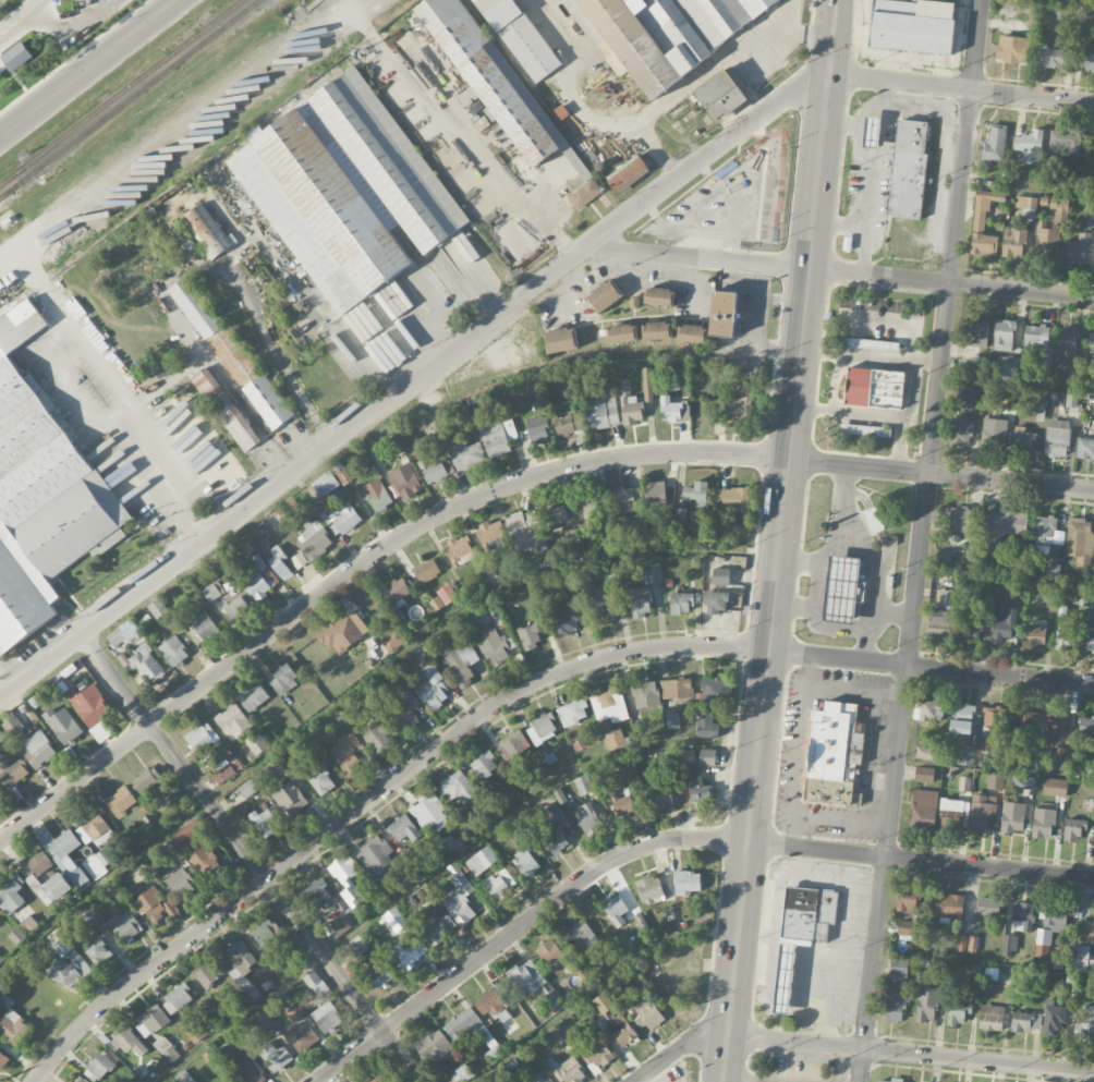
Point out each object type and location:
road: (836, 19)
building: (912, 25)
road: (788, 27)
building: (664, 32)
building: (520, 37)
building: (1013, 49)
building: (16, 56)
building: (1053, 56)
road: (832, 57)
building: (1087, 60)
road: (90, 70)
road: (705, 73)
building: (500, 87)
road: (961, 90)
railway: (121, 93)
building: (720, 95)
road: (879, 95)
railway: (129, 98)
road: (581, 112)
road: (842, 123)
railway: (163, 124)
railway: (81, 126)
building: (1063, 141)
building: (995, 145)
building: (1030, 146)
building: (1093, 150)
road: (879, 156)
building: (909, 169)
building: (627, 172)
building: (347, 190)
railway: (2, 195)
building: (1025, 203)
building: (1059, 205)
building: (1087, 209)
road: (840, 223)
building: (205, 232)
building: (184, 236)
building: (982, 236)
building: (1047, 238)
building: (1013, 243)
building: (1078, 250)
road: (770, 264)
road: (1022, 290)
building: (605, 296)
building: (659, 296)
building: (724, 314)
building: (656, 330)
building: (216, 333)
building: (622, 333)
building: (692, 333)
building: (974, 333)
building: (1004, 336)
building: (1035, 337)
building: (1068, 339)
building: (560, 340)
building: (1091, 341)
building: (873, 344)
road: (90, 352)
road: (271, 353)
building: (1010, 368)
road: (224, 374)
road: (412, 379)
building: (647, 385)
building: (887, 389)
building: (970, 398)
building: (1071, 400)
building: (268, 402)
building: (630, 404)
building: (739, 404)
building: (226, 410)
building: (673, 411)
building: (603, 413)
building: (568, 424)
building: (538, 430)
building: (963, 433)
building: (994, 433)
building: (498, 438)
building: (1057, 438)
building: (1023, 439)
building: (1084, 448)
building: (465, 454)
building: (433, 471)
building: (343, 477)
building: (405, 482)
building: (325, 484)
road: (494, 491)
building: (41, 494)
building: (655, 494)
building: (697, 494)
building: (377, 495)
building: (732, 499)
building: (628, 500)
building: (594, 507)
building: (288, 513)
building: (555, 514)
building: (342, 519)
building: (956, 519)
building: (873, 520)
building: (1008, 524)
building: (525, 530)
building: (1048, 531)
building: (491, 534)
road: (838, 535)
building: (314, 539)
road: (921, 540)
building: (1079, 542)
building: (242, 550)
building: (460, 551)
building: (1044, 552)
building: (299, 560)
building: (280, 563)
road: (874, 570)
building: (427, 571)
building: (652, 573)
building: (721, 576)
road: (777, 579)
building: (262, 580)
building: (583, 582)
building: (842, 588)
building: (399, 589)
building: (211, 593)
building: (443, 597)
building: (948, 599)
building: (640, 601)
building: (716, 601)
road: (812, 603)
building: (681, 604)
building: (235, 607)
building: (158, 608)
building: (604, 612)
building: (564, 620)
building: (940, 623)
building: (1005, 627)
road: (858, 628)
building: (202, 630)
building: (972, 630)
building: (1037, 631)
building: (344, 632)
building: (530, 636)
building: (393, 640)
building: (1067, 640)
building: (1089, 641)
building: (491, 644)
road: (861, 644)
building: (138, 651)
building: (174, 652)
building: (460, 661)
building: (283, 679)
building: (434, 689)
building: (677, 689)
building: (716, 692)
road: (854, 692)
building: (646, 695)
building: (254, 697)
road: (500, 700)
building: (89, 704)
building: (609, 705)
building: (403, 709)
building: (929, 710)
building: (573, 713)
building: (993, 717)
building: (672, 720)
building: (1028, 720)
building: (233, 722)
building: (962, 724)
building: (63, 725)
building: (706, 725)
building: (13, 726)
building: (1055, 726)
building: (1085, 726)
building: (542, 729)
building: (377, 734)
building: (1, 737)
building: (202, 737)
building: (615, 739)
building: (513, 744)
building: (39, 750)
road: (798, 750)
building: (926, 753)
building: (1060, 753)
building: (834, 755)
building: (967, 755)
building: (345, 756)
building: (707, 757)
building: (483, 767)
building: (270, 769)
building: (13, 774)
building: (221, 774)
building: (924, 775)
building: (319, 778)
building: (147, 779)
building: (995, 780)
building: (1020, 782)
building: (584, 785)
building: (1054, 787)
building: (459, 788)
building: (241, 792)
building: (700, 793)
building: (661, 794)
building: (0, 798)
building: (290, 799)
building: (120, 801)
building: (623, 805)
building: (923, 810)
building: (429, 812)
building: (982, 812)
building: (951, 814)
building: (1013, 817)
building: (587, 819)
building: (265, 823)
building: (1043, 823)
road: (839, 825)
building: (92, 828)
building: (1072, 828)
building: (404, 829)
building: (189, 834)
road: (666, 839)
building: (1093, 841)
building: (60, 842)
building: (556, 842)
road: (251, 855)
building: (376, 858)
building: (482, 861)
building: (526, 863)
building: (206, 864)
building: (37, 865)
building: (77, 877)
building: (348, 879)
building: (686, 883)
building: (181, 884)
building: (499, 884)
building: (53, 889)
building: (651, 890)
building: (11, 892)
building: (317, 892)
building: (122, 900)
building: (459, 900)
building: (908, 900)
building: (427, 902)
building: (155, 905)
building: (949, 905)
building: (989, 907)
building: (616, 910)
building: (1023, 917)
building: (85, 920)
building: (393, 920)
building: (125, 926)
building: (340, 926)
building: (437, 927)
building: (907, 928)
building: (1087, 928)
building: (1049, 929)
building: (802, 932)
building: (263, 935)
building: (581, 935)
building: (967, 944)
building: (357, 946)
building: (1010, 946)
building: (98, 951)
building: (411, 953)
building: (551, 953)
building: (1084, 958)
building: (1, 960)
building: (238, 963)
building: (898, 968)
building: (70, 970)
building: (990, 974)
building: (379, 975)
building: (207, 976)
building: (527, 977)
building: (315, 983)
building: (178, 999)
building: (491, 1005)
building: (926, 1005)
building: (605, 1006)
building: (896, 1008)
building: (295, 1012)
building: (645, 1013)
building: (956, 1013)
building: (327, 1018)
building: (992, 1018)
building: (1053, 1018)
building: (1026, 1021)
building: (153, 1022)
building: (1087, 1022)
building: (463, 1025)
building: (14, 1028)
building: (195, 1033)
building: (625, 1035)
building: (302, 1037)
building: (130, 1043)
building: (166, 1049)
building: (435, 1049)
road: (677, 1049)
road: (910, 1053)
building: (599, 1054)
building: (276, 1057)
building: (3, 1059)
building: (100, 1066)
building: (248, 1069)
building: (463, 1073)
building: (183, 1077)
building: (377, 1078)
building: (540, 1078)
building: (80, 1079)
building: (897, 1080)
building: (501, 1081)
building: (882, 1081)

